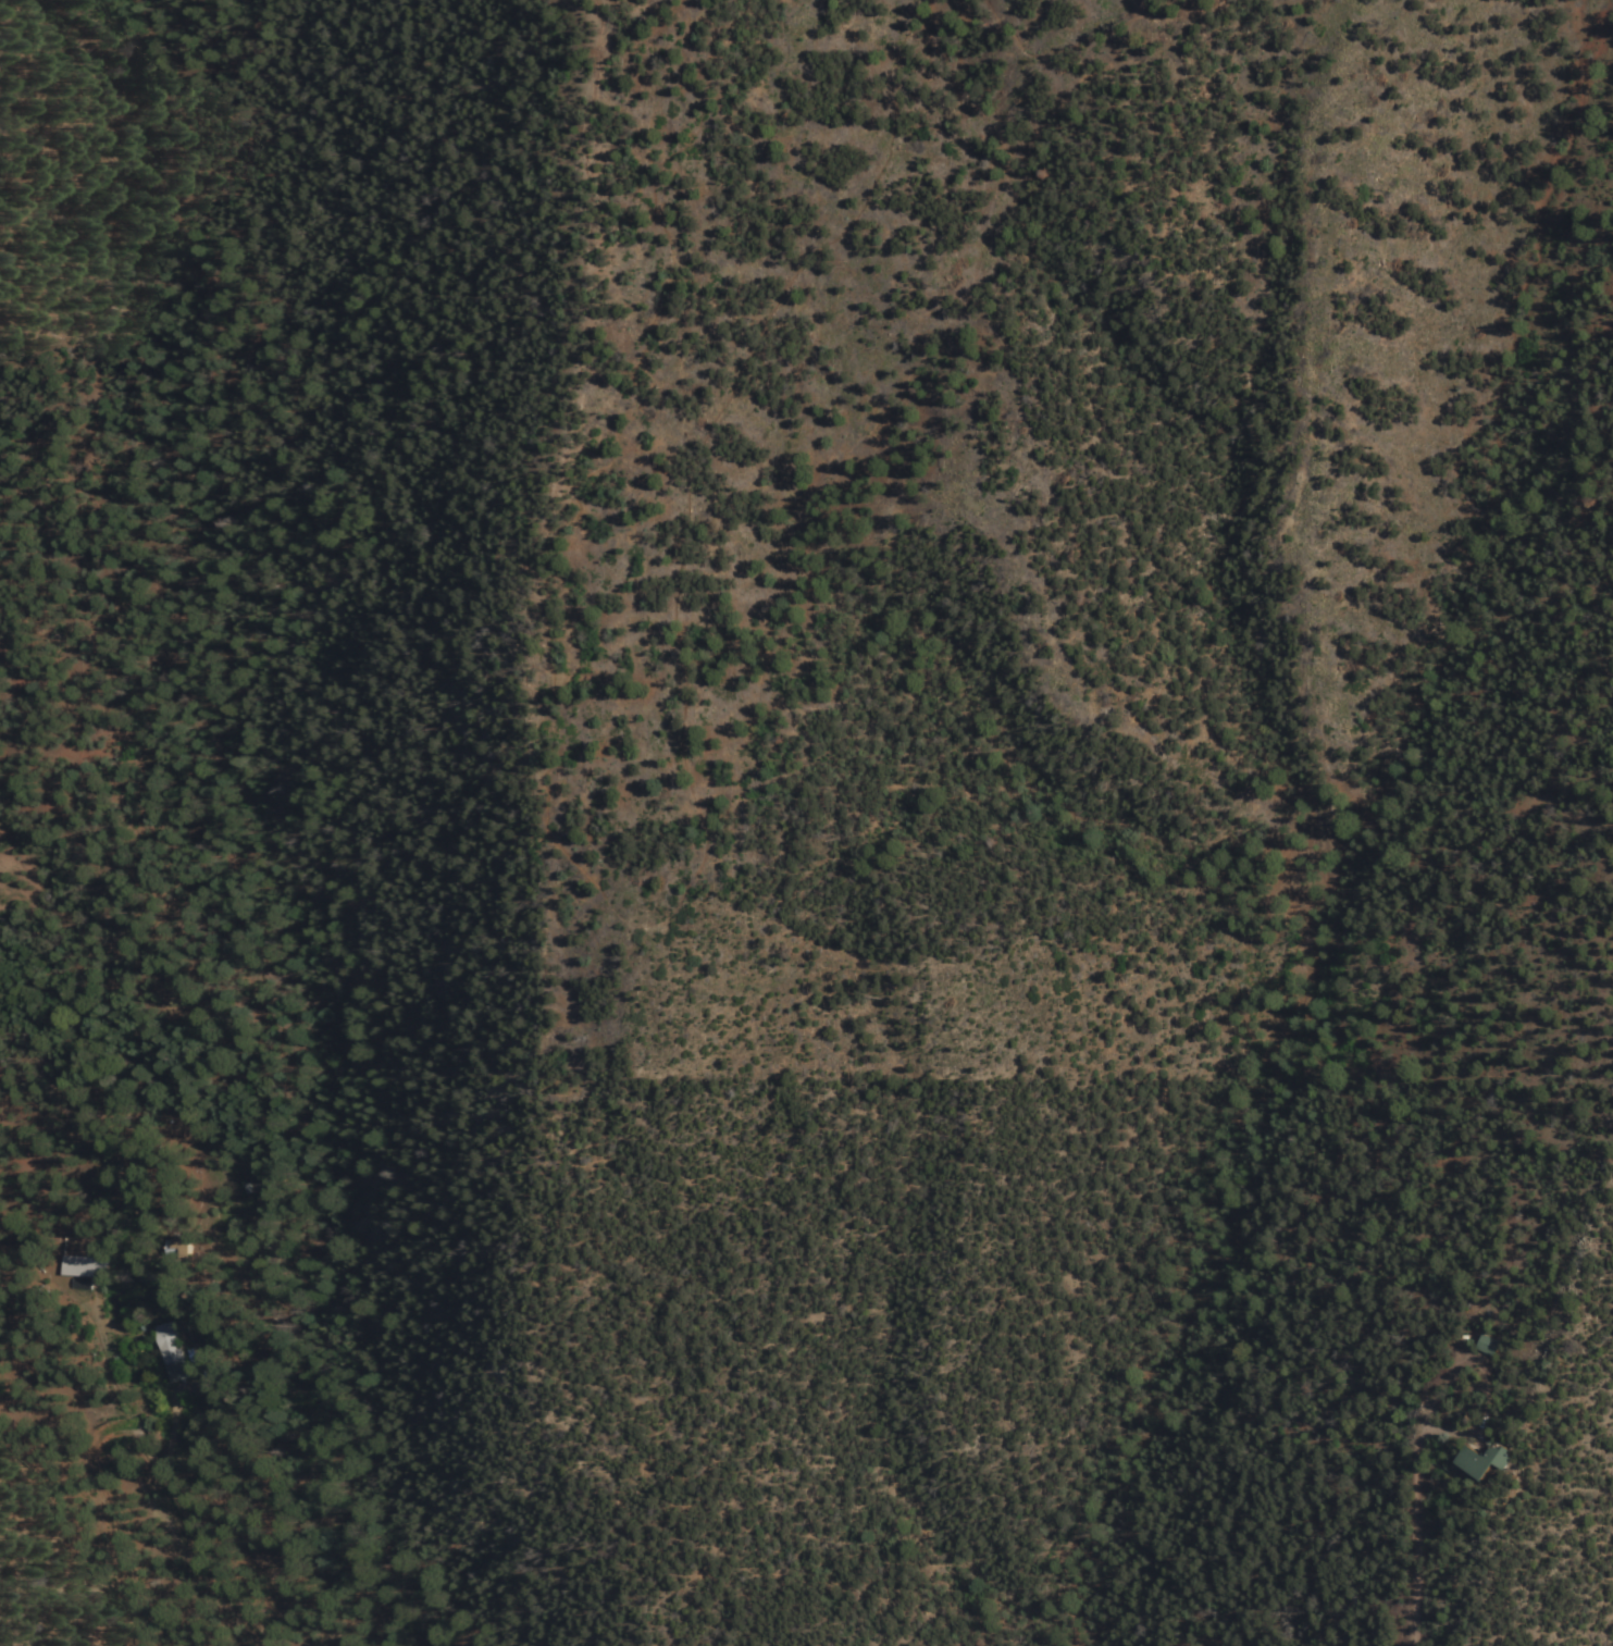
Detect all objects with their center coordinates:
road: (997, 9)
road: (1090, 35)
road: (672, 908)
road: (75, 1213)
building: (185, 1243)
building: (88, 1263)
building: (183, 1345)
building: (1490, 1348)
building: (174, 1354)
road: (138, 1433)
road: (69, 1444)
building: (1488, 1463)
road: (1416, 1534)

